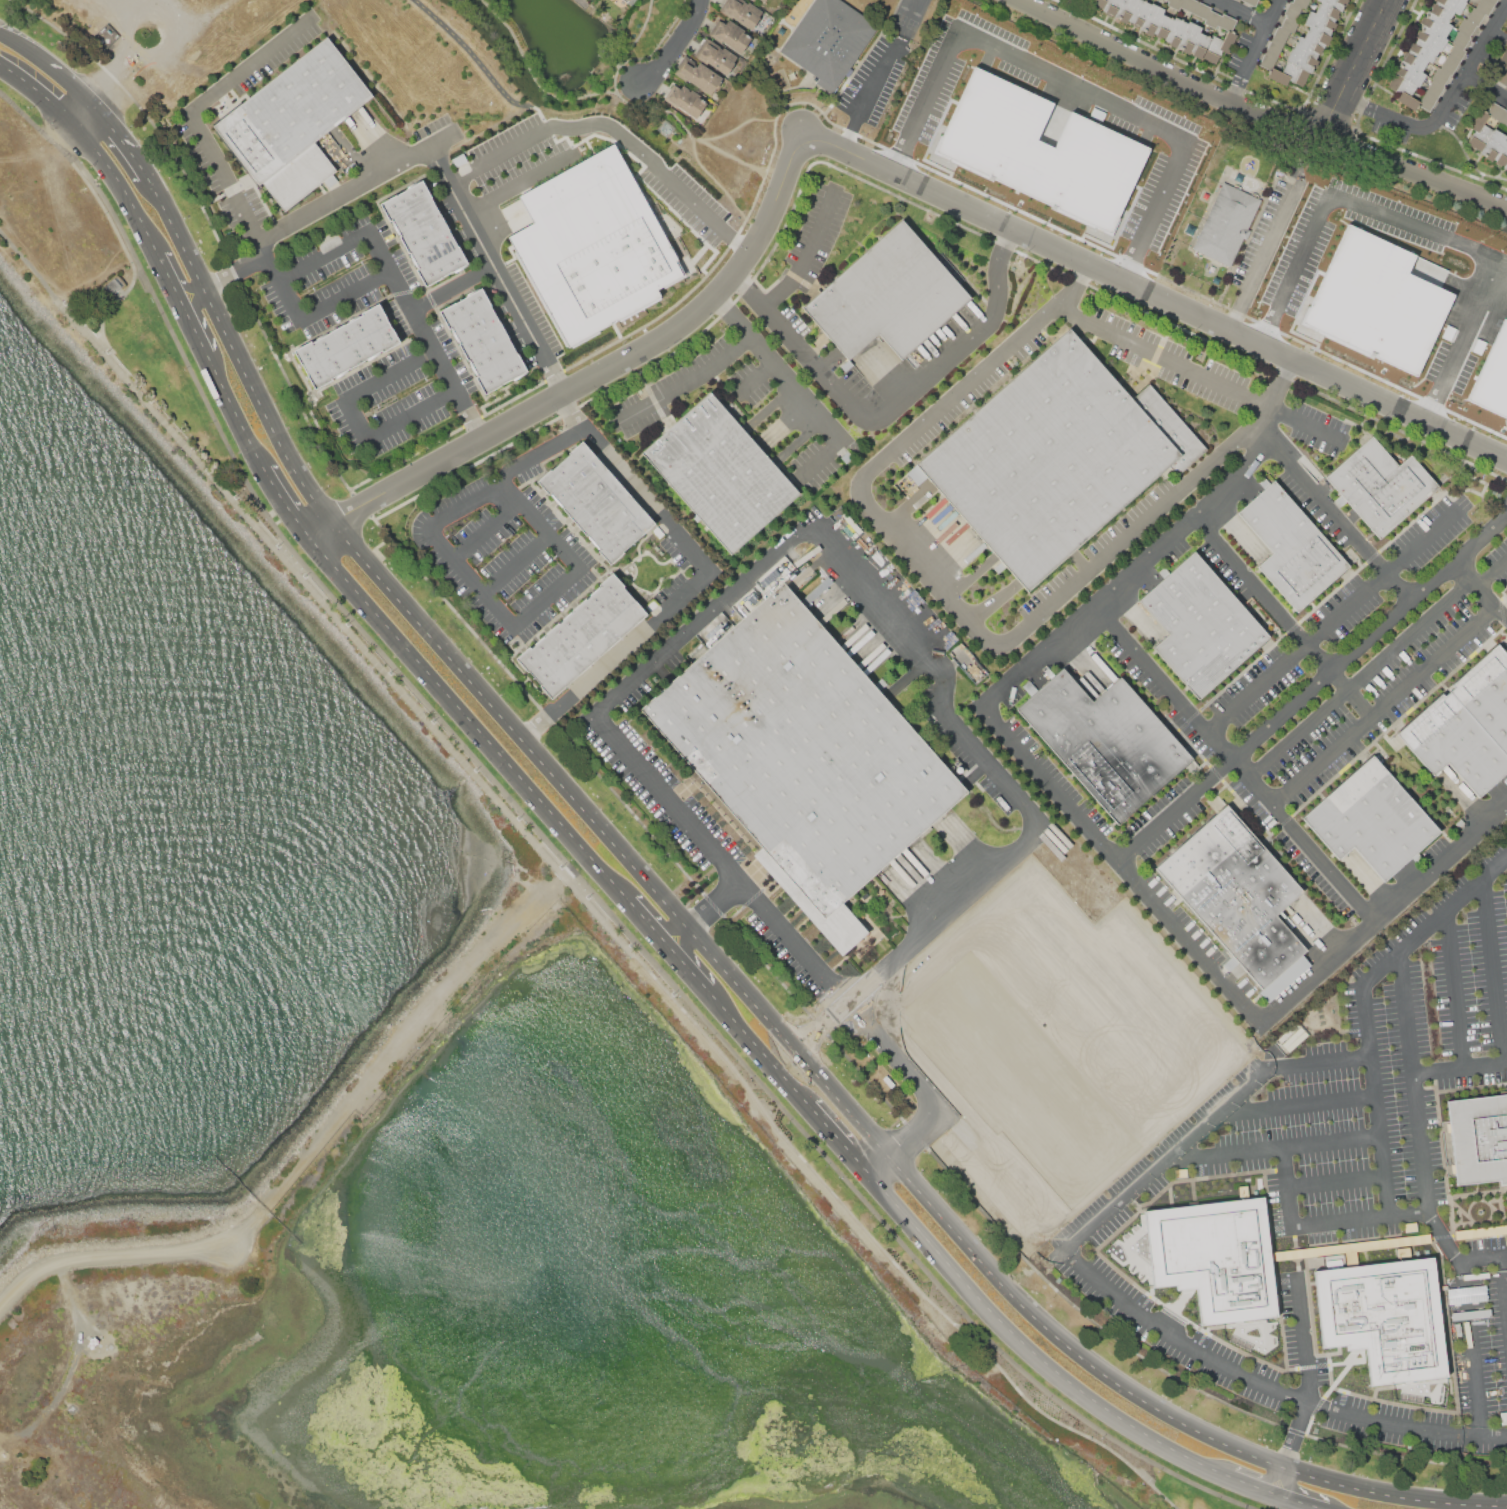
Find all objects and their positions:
building: (1167, 0)
building: (1465, 0)
building: (626, 1)
building: (760, 1)
building: (1492, 1)
building: (1251, 2)
building: (1098, 3)
building: (1301, 3)
building: (1335, 3)
building: (1175, 4)
building: (1452, 4)
building: (1189, 5)
building: (1484, 6)
building: (1110, 7)
building: (1125, 10)
building: (1202, 10)
building: (1293, 10)
building: (1327, 11)
building: (1441, 11)
building: (741, 12)
road: (1244, 12)
road: (1276, 12)
building: (1138, 13)
building: (1475, 16)
building: (1151, 19)
building: (1213, 19)
building: (1227, 22)
building: (1289, 23)
building: (1320, 23)
building: (1436, 24)
building: (1163, 27)
building: (1466, 27)
building: (1175, 32)
building: (730, 34)
building: (1280, 34)
building: (1317, 37)
road: (1486, 37)
building: (1188, 38)
building: (1430, 38)
road: (16, 39)
building: (1461, 39)
building: (829, 40)
road: (676, 43)
building: (1200, 45)
building: (1218, 46)
building: (1275, 47)
building: (1307, 47)
building: (1423, 49)
building: (1457, 53)
building: (715, 56)
building: (1268, 60)
building: (1301, 60)
building: (1414, 60)
building: (1503, 60)
road: (1251, 64)
road: (247, 65)
building: (1449, 65)
road: (1357, 68)
building: (1409, 73)
building: (697, 74)
road: (880, 74)
building: (1288, 75)
building: (1440, 76)
road: (68, 77)
building: (1502, 77)
road: (1486, 84)
road: (542, 86)
building: (1418, 86)
road: (1070, 87)
building: (1434, 89)
building: (1404, 91)
building: (686, 101)
building: (1427, 101)
road: (99, 108)
building: (1496, 111)
road: (1260, 113)
building: (1504, 118)
building: (294, 122)
road: (36, 126)
road: (1416, 127)
road: (615, 131)
building: (1480, 131)
road: (709, 136)
road: (68, 137)
road: (126, 141)
building: (1493, 144)
road: (93, 146)
building: (1039, 150)
road: (854, 153)
building: (1501, 154)
building: (1505, 165)
road: (357, 187)
road: (1344, 200)
road: (109, 209)
building: (514, 214)
road: (245, 216)
building: (1226, 224)
building: (424, 232)
building: (592, 245)
road: (809, 254)
road: (324, 255)
road: (1265, 256)
road: (999, 270)
road: (496, 272)
road: (167, 277)
road: (222, 279)
building: (113, 286)
road: (452, 286)
road: (1074, 286)
road: (749, 291)
road: (346, 295)
building: (888, 297)
building: (1376, 300)
road: (114, 302)
road: (417, 319)
road: (192, 327)
building: (483, 340)
road: (1460, 340)
building: (347, 345)
road: (240, 352)
road: (816, 366)
road: (778, 368)
road: (935, 370)
road: (389, 375)
road: (753, 376)
road: (1204, 378)
road: (686, 383)
road: (957, 395)
road: (769, 406)
road: (233, 409)
road: (411, 413)
road: (356, 420)
road: (785, 424)
road: (475, 425)
road: (1244, 432)
road: (540, 453)
building: (1055, 457)
road: (613, 460)
road: (819, 460)
building: (720, 473)
building: (1380, 486)
road: (283, 501)
building: (597, 502)
road: (467, 504)
road: (1332, 510)
road: (543, 527)
road: (486, 529)
road: (804, 529)
road: (269, 533)
building: (1292, 546)
road: (688, 547)
road: (293, 559)
road: (517, 563)
road: (1098, 564)
road: (1491, 571)
road: (1126, 574)
road: (930, 577)
road: (471, 578)
road: (317, 588)
road: (1480, 591)
road: (547, 598)
road: (1280, 616)
road: (1334, 619)
building: (1201, 625)
building: (584, 634)
road: (1368, 636)
road: (616, 654)
road: (1359, 679)
building: (1487, 694)
road: (1383, 706)
road: (469, 720)
building: (1105, 741)
building: (1454, 743)
building: (803, 750)
road: (1235, 762)
road: (566, 785)
park: (507, 788)
road: (1175, 810)
building: (1371, 819)
road: (664, 851)
road: (550, 853)
road: (1121, 864)
road: (575, 881)
road: (573, 889)
building: (1236, 893)
road: (600, 909)
road: (1383, 915)
road: (706, 917)
road: (1434, 918)
road: (649, 925)
road: (638, 943)
road: (1493, 969)
road: (689, 970)
road: (1456, 988)
road: (820, 1025)
road: (752, 1041)
road: (1319, 1062)
road: (1459, 1068)
road: (797, 1069)
road: (1412, 1082)
road: (924, 1094)
road: (1375, 1099)
road: (1295, 1106)
road: (816, 1113)
building: (1479, 1138)
road: (1273, 1146)
road: (853, 1156)
road: (1167, 1159)
road: (1285, 1187)
road: (1358, 1219)
road: (1443, 1236)
building: (1214, 1257)
road: (1480, 1257)
road: (1504, 1280)
building: (1384, 1318)
road: (1303, 1338)
road: (1470, 1347)
road: (1028, 1348)
airport: (147, 1357)
road: (1097, 1366)
road: (1269, 1386)
building: (1415, 1391)
road: (1294, 1450)
road: (1249, 1487)
airport: (846, 1497)
road: (1293, 1503)

